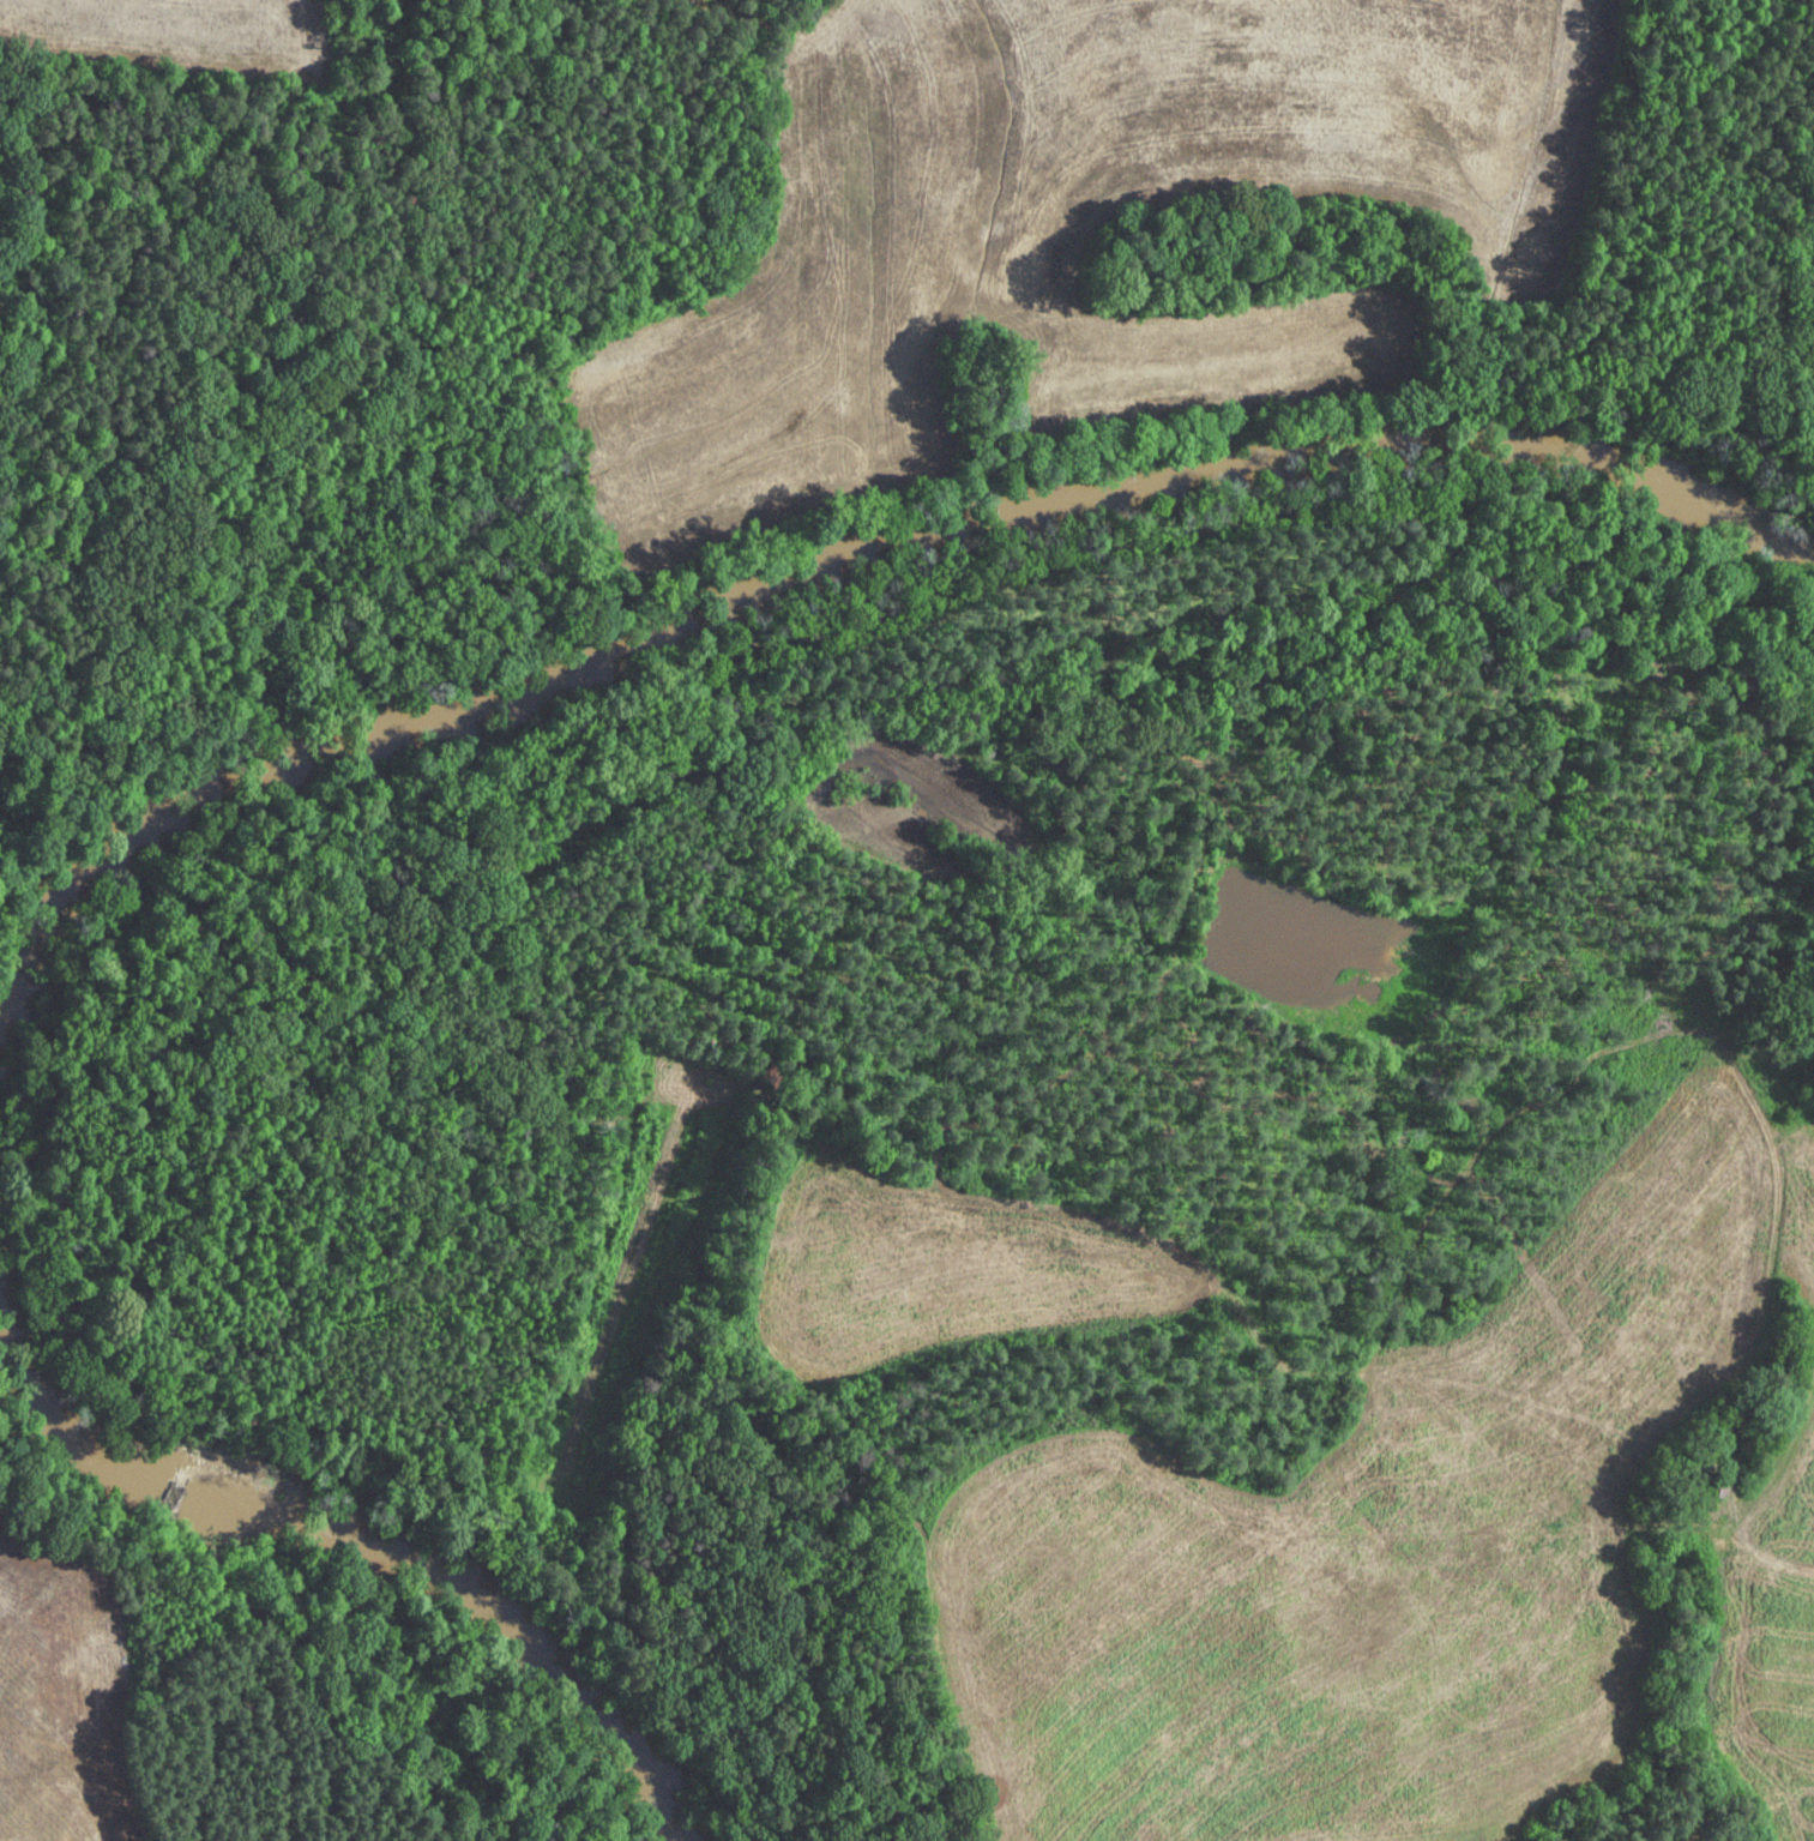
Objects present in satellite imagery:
river: (839, 561)
river: (357, 1526)

